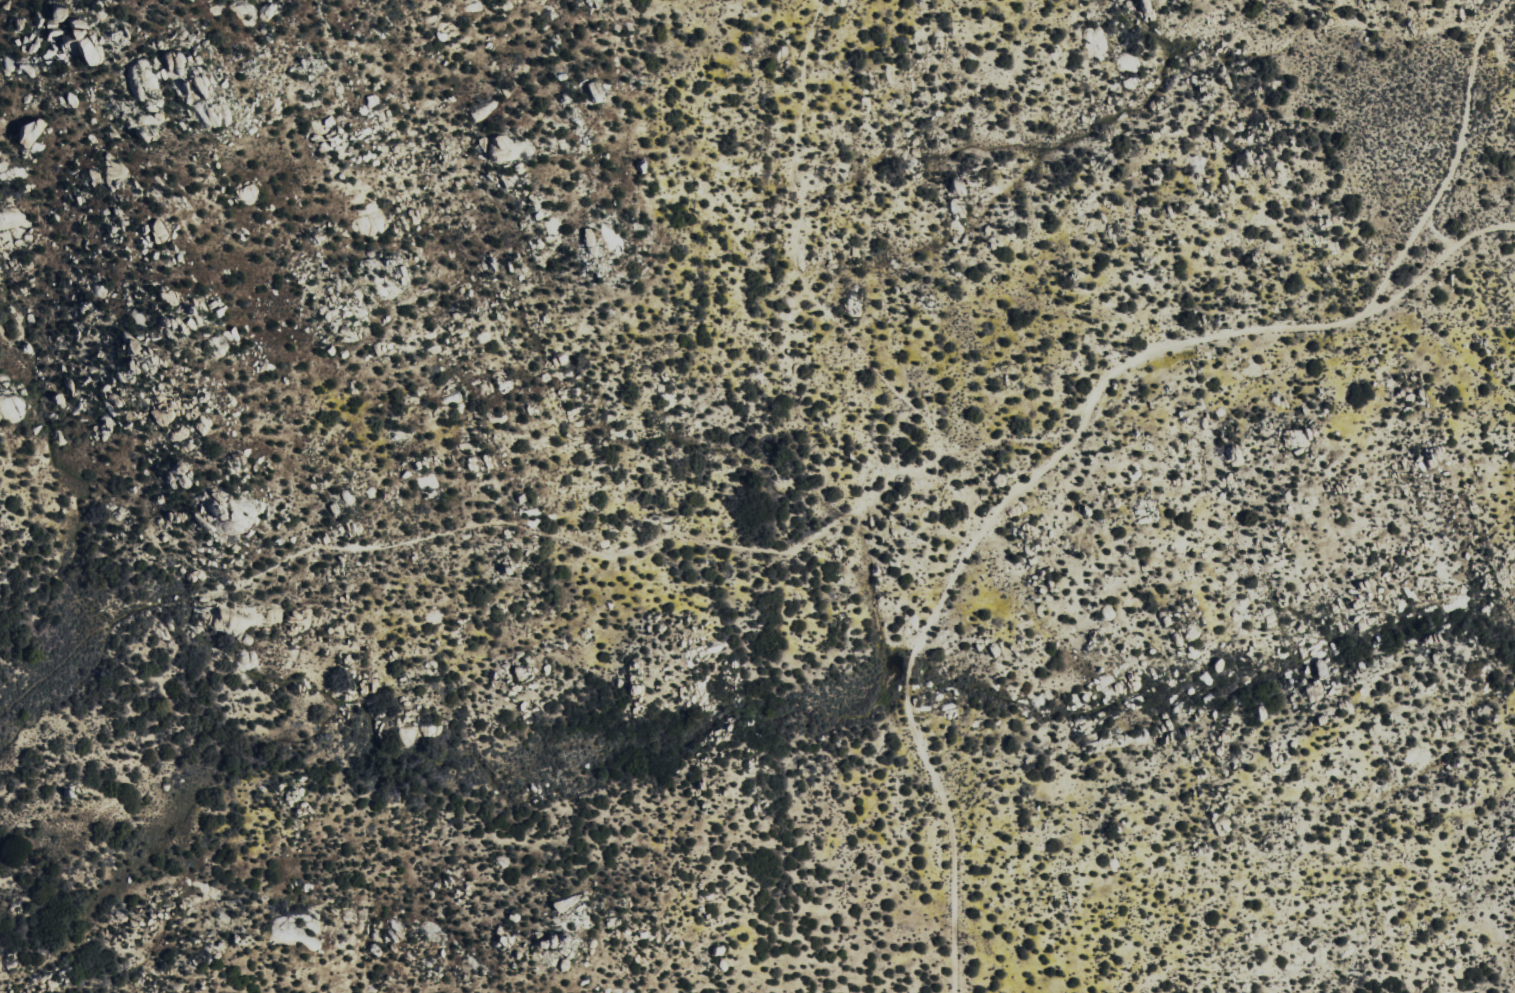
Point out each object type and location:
building: (187, 64)
building: (148, 83)
building: (214, 87)
building: (591, 92)
building: (34, 137)
building: (498, 142)
building: (250, 194)
building: (218, 346)

